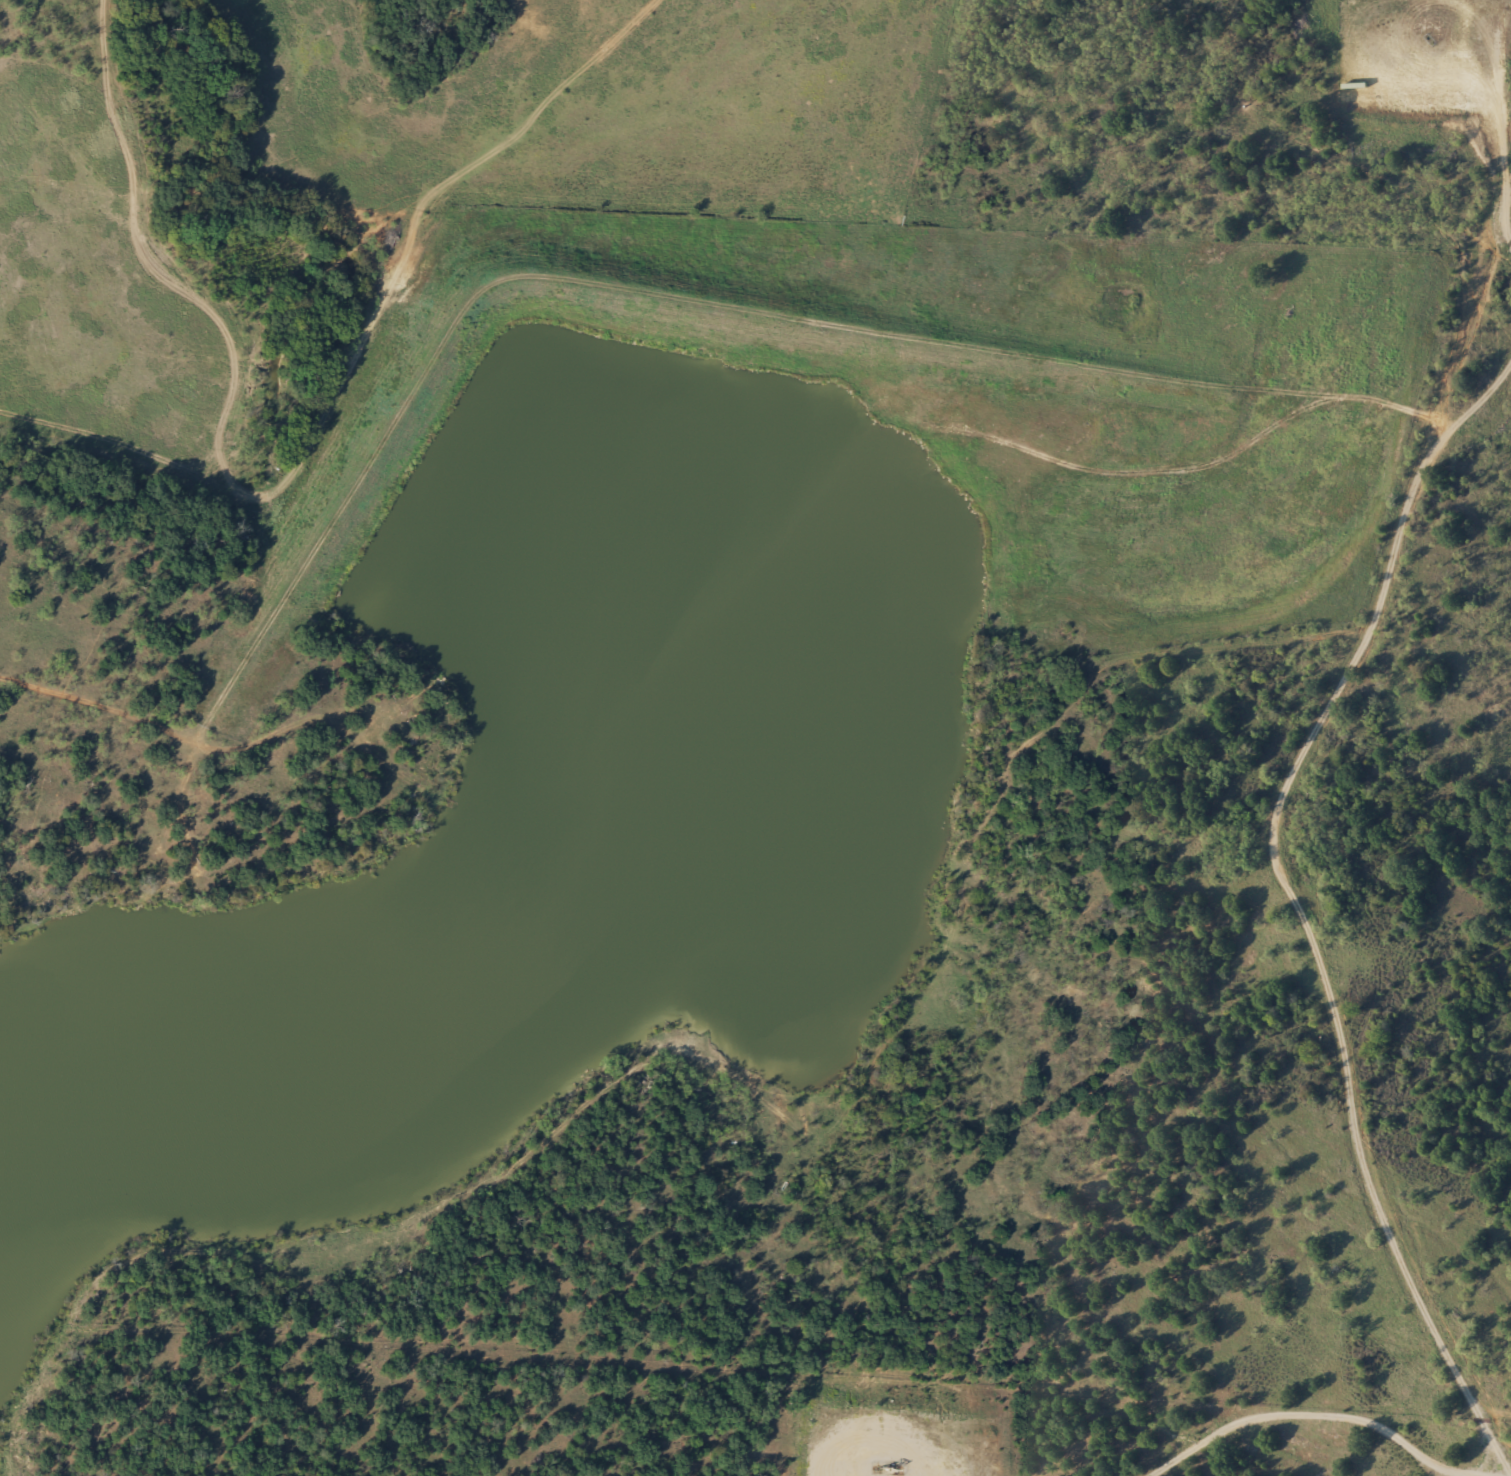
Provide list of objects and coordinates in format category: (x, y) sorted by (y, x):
road: (106, 895)

